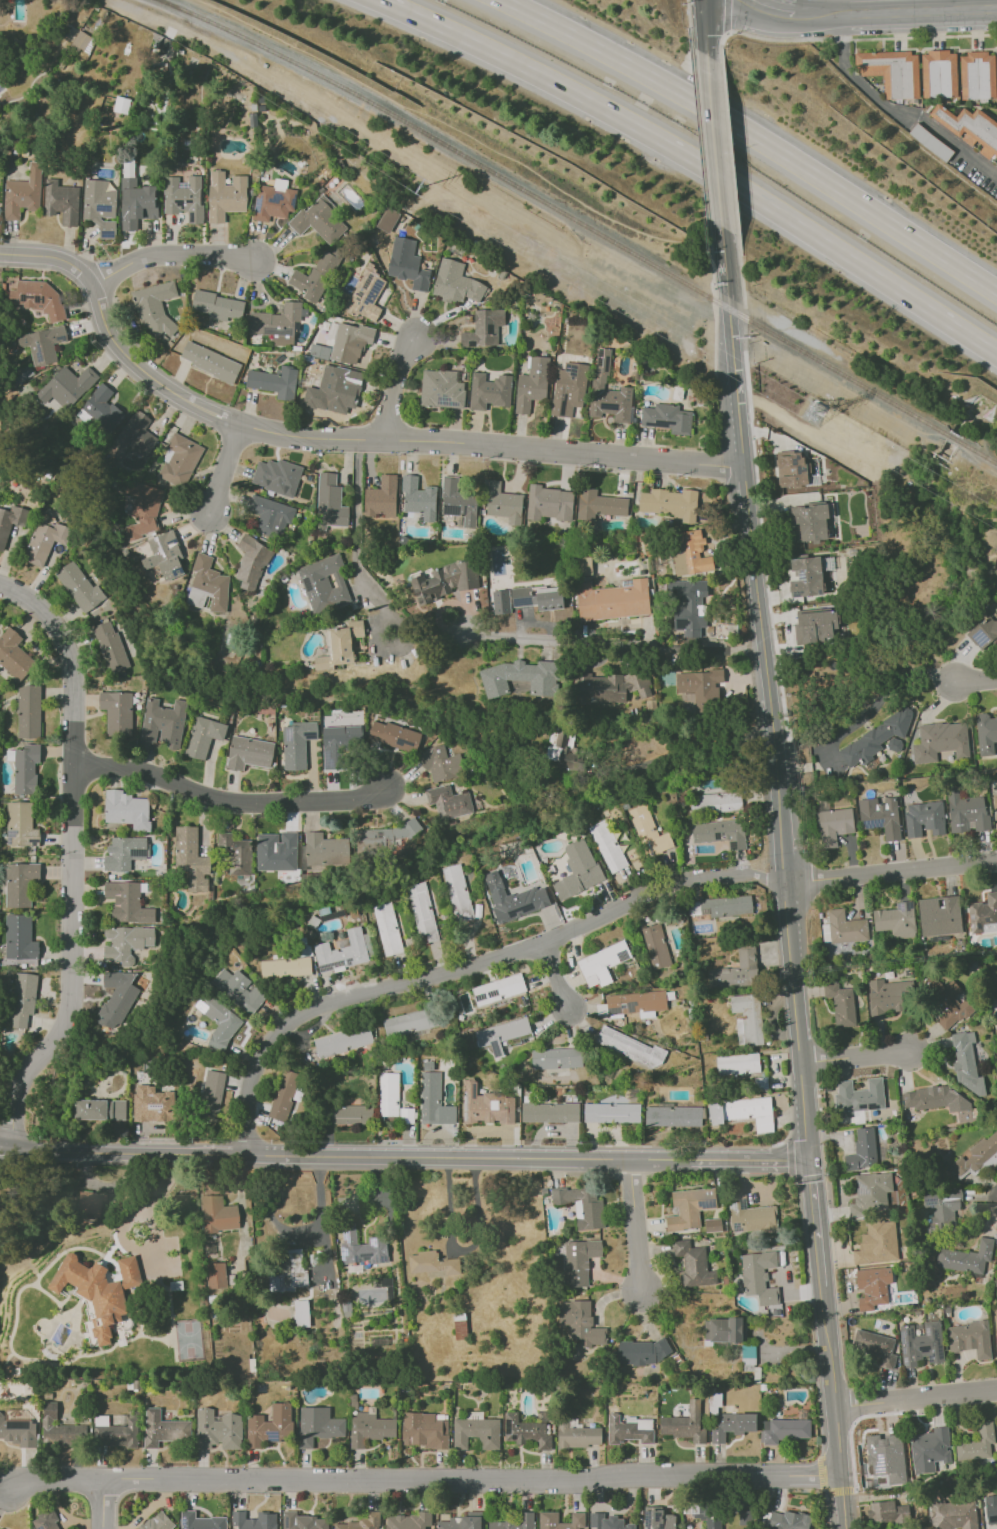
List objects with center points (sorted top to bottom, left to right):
road: (901, 13)
road: (770, 14)
road: (727, 17)
road: (688, 23)
road: (705, 28)
road: (844, 39)
building: (81, 40)
building: (893, 72)
building: (940, 74)
building: (979, 76)
road: (857, 81)
road: (696, 97)
building: (121, 105)
building: (253, 106)
building: (252, 119)
building: (970, 127)
road: (750, 138)
road: (714, 141)
building: (932, 142)
road: (962, 147)
road: (730, 150)
road: (436, 152)
road: (688, 163)
road: (703, 171)
power tower: (422, 188)
building: (22, 194)
building: (225, 195)
building: (183, 198)
rooftop solar panel: (273, 198)
building: (272, 200)
building: (61, 201)
rooftop solar panel: (258, 202)
rooftop solar panel: (291, 202)
building: (136, 203)
building: (99, 205)
road: (706, 206)
rooftop solar panel: (103, 208)
railway: (557, 208)
building: (386, 219)
building: (318, 220)
rooftop solar panel: (106, 231)
road: (171, 255)
building: (406, 264)
road: (742, 271)
building: (314, 276)
rooftop solar panel: (366, 281)
building: (455, 282)
rooftop solar panel: (374, 292)
rooftop solar panel: (359, 294)
building: (365, 296)
rooftop solar panel: (24, 298)
building: (37, 298)
rooftop solar panel: (38, 298)
rooftop solar panel: (44, 298)
rooftop solar panel: (357, 298)
building: (216, 305)
road: (714, 305)
rooftop solar panel: (359, 308)
building: (153, 309)
building: (276, 322)
building: (483, 328)
road: (744, 328)
rooftop solar panel: (63, 337)
building: (350, 342)
building: (42, 343)
rooftop solar panel: (39, 349)
building: (319, 351)
rooftop solar panel: (599, 354)
building: (210, 361)
rooftop solar panel: (598, 361)
rooftop solar panel: (606, 365)
building: (274, 381)
building: (531, 383)
road: (396, 384)
building: (66, 386)
building: (339, 388)
building: (441, 389)
building: (567, 389)
road: (849, 389)
building: (489, 391)
building: (607, 391)
building: (677, 393)
rooftop solar panel: (610, 406)
building: (101, 412)
power tower: (812, 415)
building: (667, 418)
rooftop solar panel: (660, 425)
building: (137, 433)
road: (815, 435)
railway: (953, 438)
road: (332, 439)
railway: (977, 452)
building: (179, 459)
road: (977, 461)
rooftop solar panel: (790, 462)
building: (791, 468)
rooftop solar panel: (797, 470)
road: (226, 471)
building: (277, 475)
building: (419, 497)
building: (380, 498)
building: (457, 501)
building: (329, 502)
building: (548, 502)
building: (502, 503)
building: (669, 503)
building: (598, 505)
building: (143, 509)
building: (269, 515)
building: (10, 521)
building: (808, 522)
road: (358, 529)
building: (44, 540)
rooftop solar panel: (170, 541)
road: (762, 545)
building: (688, 552)
road: (752, 555)
building: (164, 556)
building: (250, 561)
building: (585, 565)
rooftop solar panel: (174, 570)
building: (806, 577)
building: (445, 580)
building: (210, 582)
building: (324, 583)
building: (79, 587)
building: (526, 598)
building: (613, 599)
rooftop solar panel: (521, 601)
building: (686, 605)
building: (814, 626)
building: (984, 633)
rooftop solar panel: (980, 636)
road: (613, 641)
building: (340, 645)
building: (110, 646)
road: (394, 650)
building: (14, 656)
building: (520, 677)
road: (975, 682)
building: (613, 686)
building: (701, 688)
building: (649, 705)
building: (29, 711)
building: (117, 712)
road: (863, 715)
building: (163, 723)
building: (986, 733)
building: (394, 735)
building: (203, 736)
building: (875, 738)
building: (940, 741)
building: (296, 743)
building: (339, 744)
building: (894, 744)
building: (563, 749)
road: (697, 749)
building: (249, 753)
building: (441, 764)
building: (25, 768)
building: (449, 802)
building: (715, 802)
road: (228, 803)
building: (127, 809)
building: (995, 810)
building: (966, 812)
building: (880, 816)
building: (924, 818)
rooftop solar panel: (870, 823)
rooftop solar panel: (971, 823)
building: (20, 825)
building: (833, 826)
building: (649, 831)
building: (720, 832)
rooftop solar panel: (717, 835)
rooftop solar panel: (731, 844)
building: (607, 846)
building: (325, 850)
building: (276, 851)
building: (124, 852)
building: (235, 853)
building: (190, 858)
road: (73, 859)
building: (577, 870)
road: (890, 871)
road: (760, 879)
building: (20, 883)
building: (457, 893)
building: (513, 898)
building: (127, 902)
building: (725, 906)
building: (422, 912)
building: (983, 914)
rooftop solar panel: (331, 915)
building: (939, 915)
rooftop solar panel: (972, 917)
building: (896, 920)
rooftop solar panel: (987, 921)
rooftop solar panel: (978, 926)
building: (387, 928)
building: (846, 928)
building: (19, 938)
building: (126, 942)
building: (655, 946)
building: (345, 951)
rooftop solar panel: (622, 955)
rooftop solar panel: (348, 961)
building: (602, 963)
rooftop solar panel: (331, 965)
building: (285, 967)
building: (736, 970)
road: (446, 971)
road: (559, 980)
building: (238, 989)
building: (498, 989)
rooftop solar panel: (493, 995)
rooftop solar panel: (480, 996)
building: (889, 996)
building: (117, 998)
building: (23, 999)
building: (636, 1004)
building: (841, 1004)
rooftop solar panel: (628, 1005)
building: (950, 1005)
rooftop solar panel: (614, 1012)
building: (747, 1018)
building: (218, 1021)
road: (796, 1021)
building: (409, 1022)
building: (501, 1034)
building: (342, 1041)
building: (631, 1047)
road: (854, 1057)
building: (556, 1058)
building: (966, 1062)
building: (737, 1064)
rooftop solar panel: (473, 1090)
building: (388, 1094)
building: (211, 1095)
building: (284, 1095)
building: (859, 1097)
building: (433, 1098)
building: (935, 1099)
rooftop solar panel: (465, 1102)
building: (152, 1104)
building: (485, 1105)
building: (99, 1109)
building: (550, 1112)
building: (611, 1112)
building: (751, 1112)
building: (716, 1113)
building: (351, 1114)
rooftop solar panel: (465, 1116)
building: (673, 1116)
road: (12, 1130)
road: (790, 1130)
road: (26, 1150)
road: (60, 1150)
building: (862, 1150)
road: (397, 1154)
building: (977, 1154)
road: (767, 1159)
traffic signals: (808, 1160)
building: (991, 1161)
road: (588, 1172)
road: (719, 1174)
road: (790, 1174)
road: (627, 1175)
road: (163, 1184)
rooftop solar panel: (863, 1189)
building: (871, 1193)
rooftop solar panel: (931, 1202)
rooftop solar panel: (743, 1203)
building: (90, 1204)
rooftop solar panel: (705, 1204)
rooftop solar panel: (733, 1205)
building: (581, 1206)
building: (941, 1207)
building: (689, 1208)
building: (218, 1214)
building: (750, 1215)
road: (130, 1219)
road: (813, 1222)
road: (635, 1225)
building: (713, 1225)
rooftop solar panel: (379, 1243)
building: (877, 1243)
building: (362, 1247)
rooftop solar panel: (366, 1254)
building: (966, 1257)
rooftop solar panel: (381, 1258)
rooftop solar panel: (357, 1260)
rooftop solar panel: (375, 1261)
building: (579, 1261)
building: (432, 1264)
building: (693, 1264)
building: (291, 1269)
building: (129, 1271)
building: (216, 1275)
building: (759, 1277)
building: (872, 1287)
building: (93, 1293)
building: (301, 1313)
road: (809, 1315)
building: (581, 1324)
building: (723, 1329)
rooftop solar panel: (928, 1331)
rooftop solar panel: (911, 1333)
building: (996, 1333)
rooftop solar panel: (937, 1335)
rooftop solar panel: (903, 1337)
building: (970, 1338)
rooftop solar panel: (908, 1343)
building: (921, 1344)
building: (875, 1347)
rooftop solar panel: (904, 1350)
building: (642, 1351)
rooftop solar panel: (941, 1352)
building: (748, 1357)
rooftop solar panel: (906, 1359)
road: (915, 1400)
road: (832, 1406)
building: (728, 1420)
building: (684, 1424)
building: (317, 1425)
building: (270, 1426)
building: (60, 1428)
building: (163, 1429)
building: (218, 1429)
building: (369, 1429)
building: (630, 1429)
building: (424, 1430)
building: (784, 1430)
building: (18, 1431)
building: (116, 1431)
building: (476, 1431)
building: (525, 1431)
building: (577, 1435)
rooftop solar panel: (273, 1436)
building: (977, 1443)
building: (929, 1450)
building: (886, 1457)
road: (820, 1470)
road: (422, 1478)
road: (840, 1490)
road: (825, 1492)
road: (103, 1506)
road: (826, 1507)
building: (991, 1508)
road: (856, 1509)
building: (887, 1512)
building: (707, 1515)
building: (953, 1515)
building: (548, 1517)
building: (658, 1518)
building: (45, 1520)
building: (254, 1520)
building: (788, 1520)
building: (200, 1521)
building: (303, 1521)
building: (408, 1521)
building: (157, 1522)
rooftop solar panel: (286, 1522)
building: (462, 1522)
building: (514, 1522)
building: (360, 1523)
rooftop solar panel: (184, 1525)

